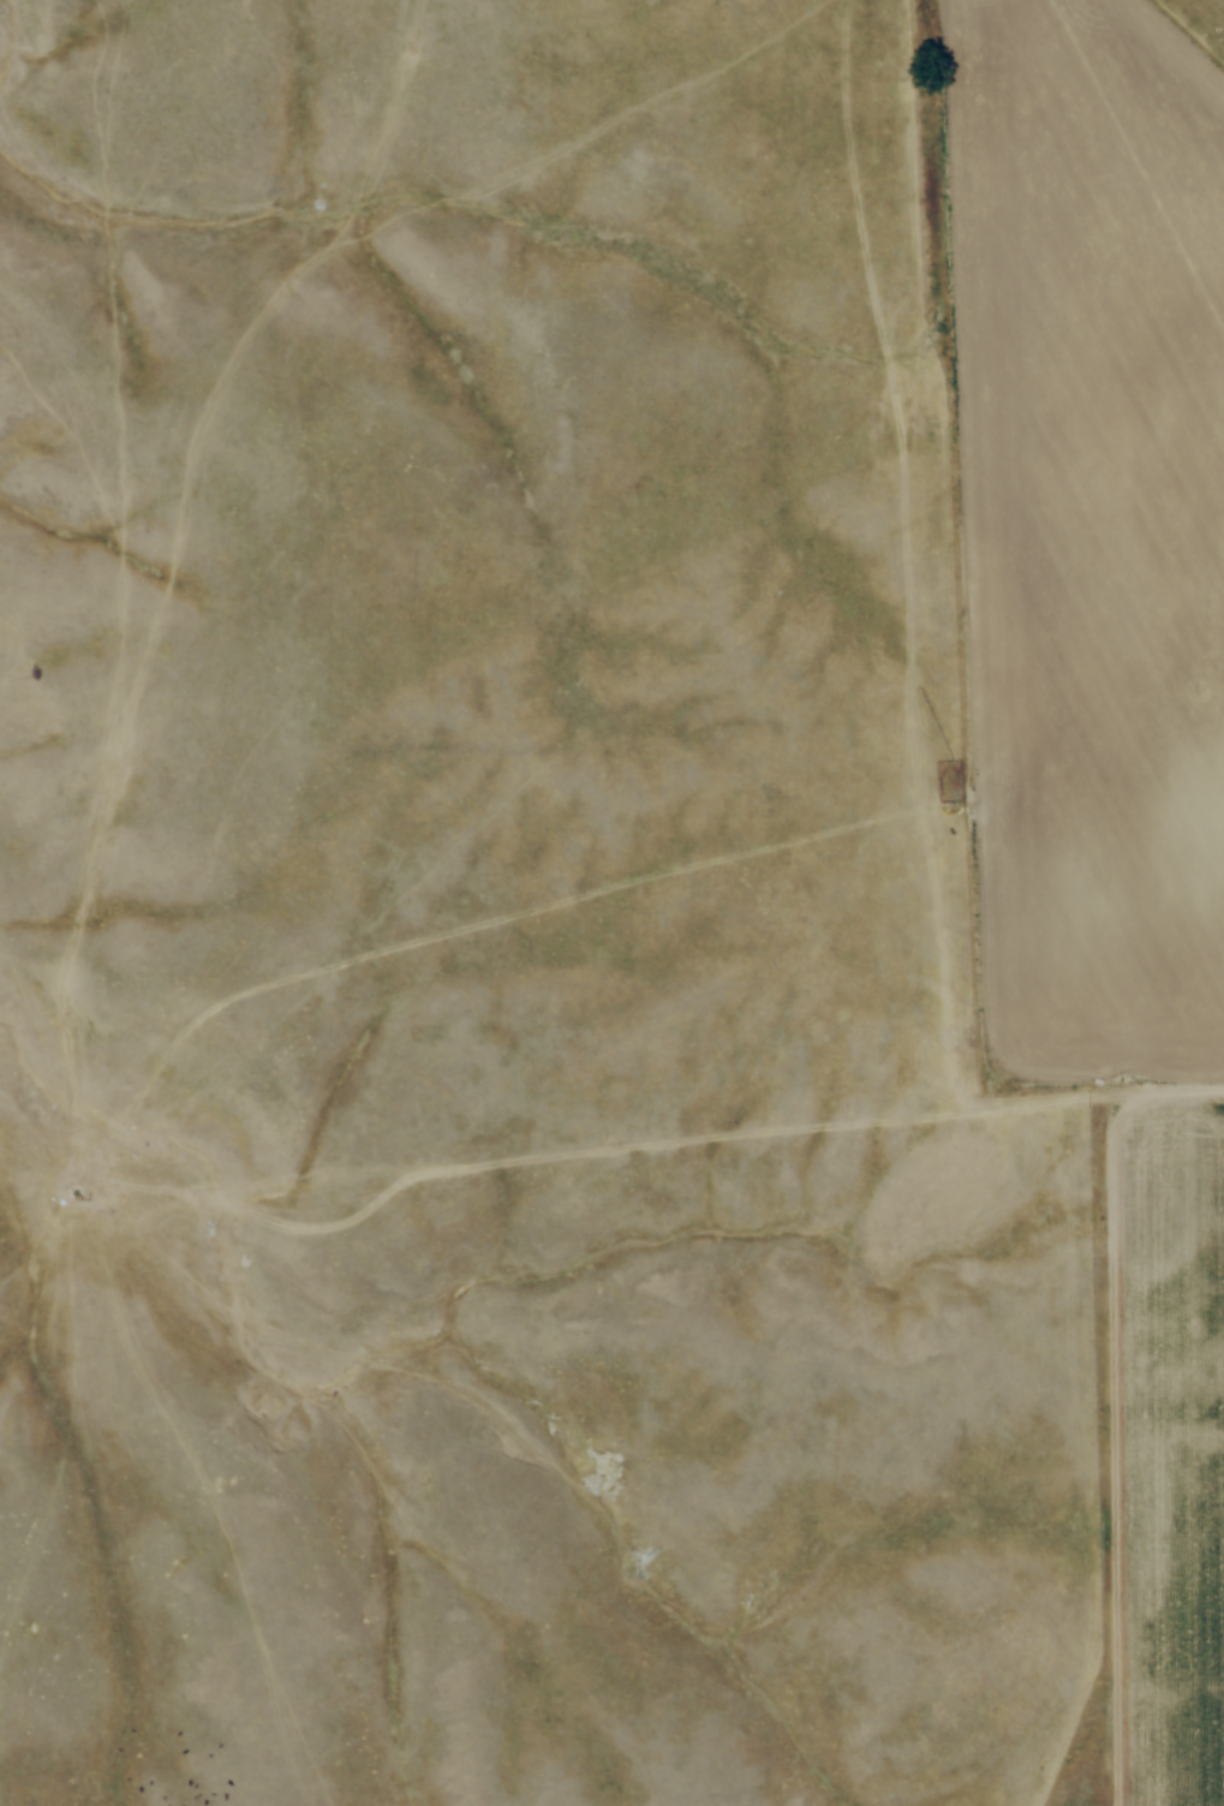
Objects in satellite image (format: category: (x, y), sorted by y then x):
crop: (1107, 722)

